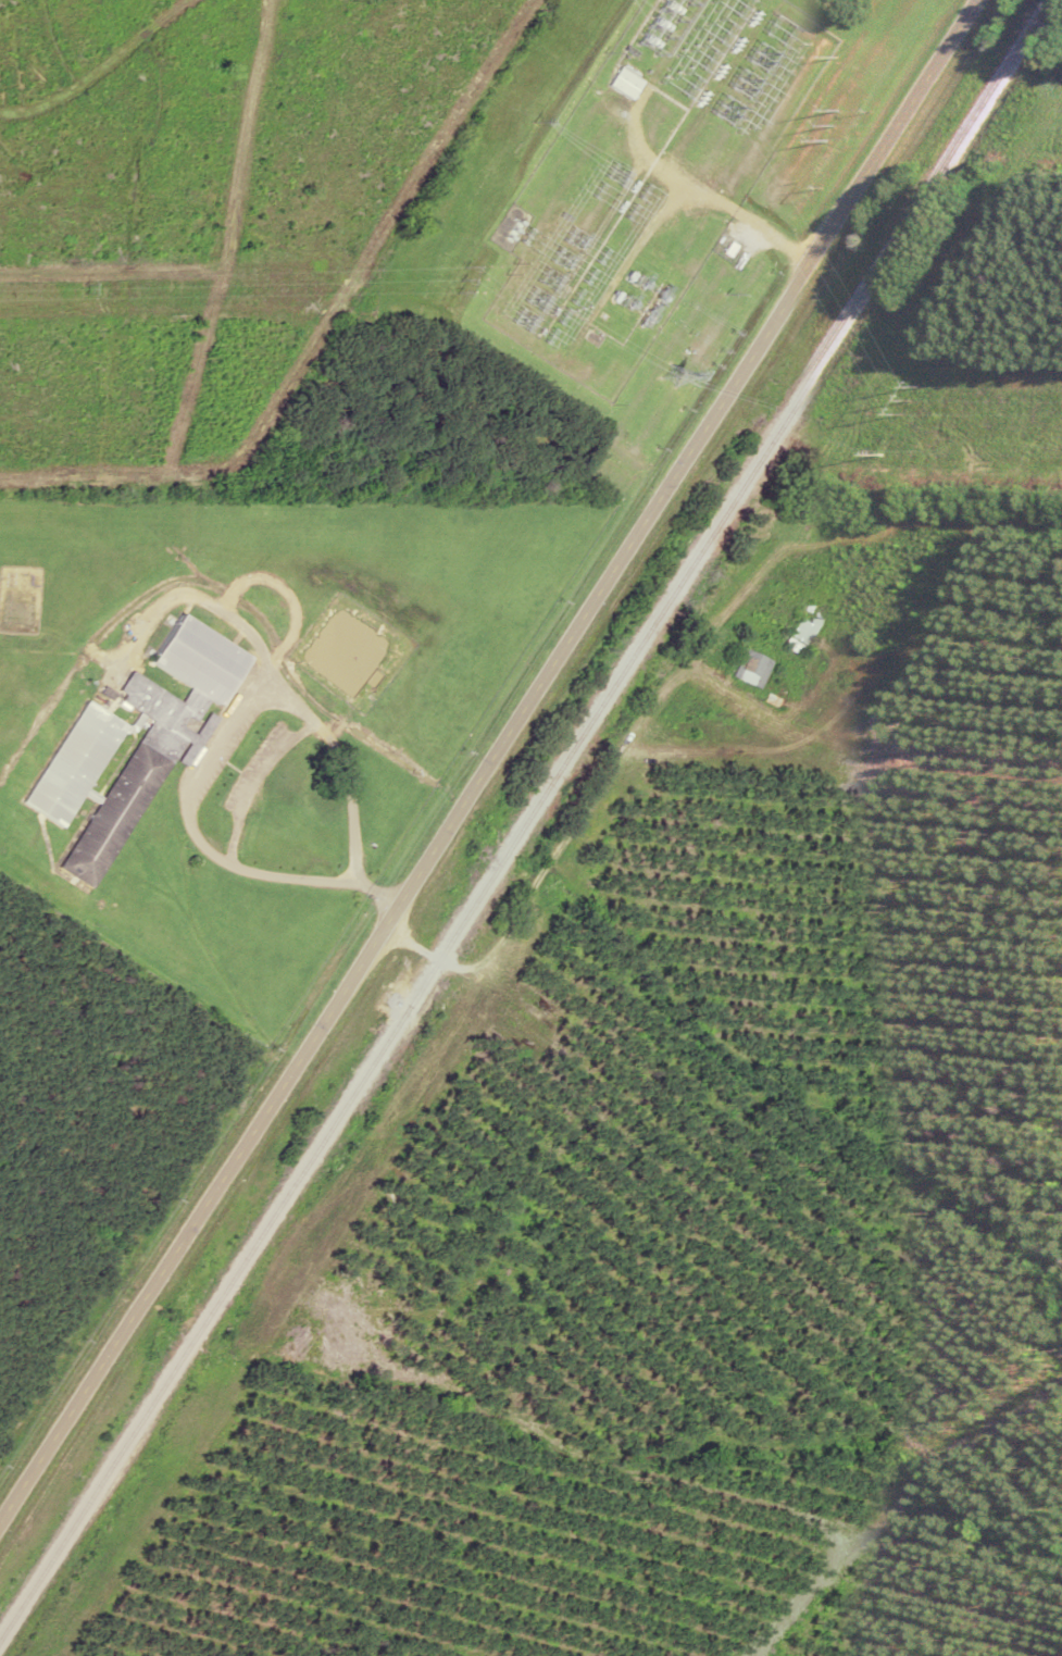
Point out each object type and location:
building: (622, 83)
power tower: (833, 121)
power substation: (646, 176)
power tower: (790, 187)
power tower: (677, 371)
power tower: (913, 397)
building: (801, 625)
building: (748, 665)
road: (216, 736)
building: (130, 743)
road: (491, 757)
railway: (524, 812)
road: (372, 892)
road: (628, 1644)

